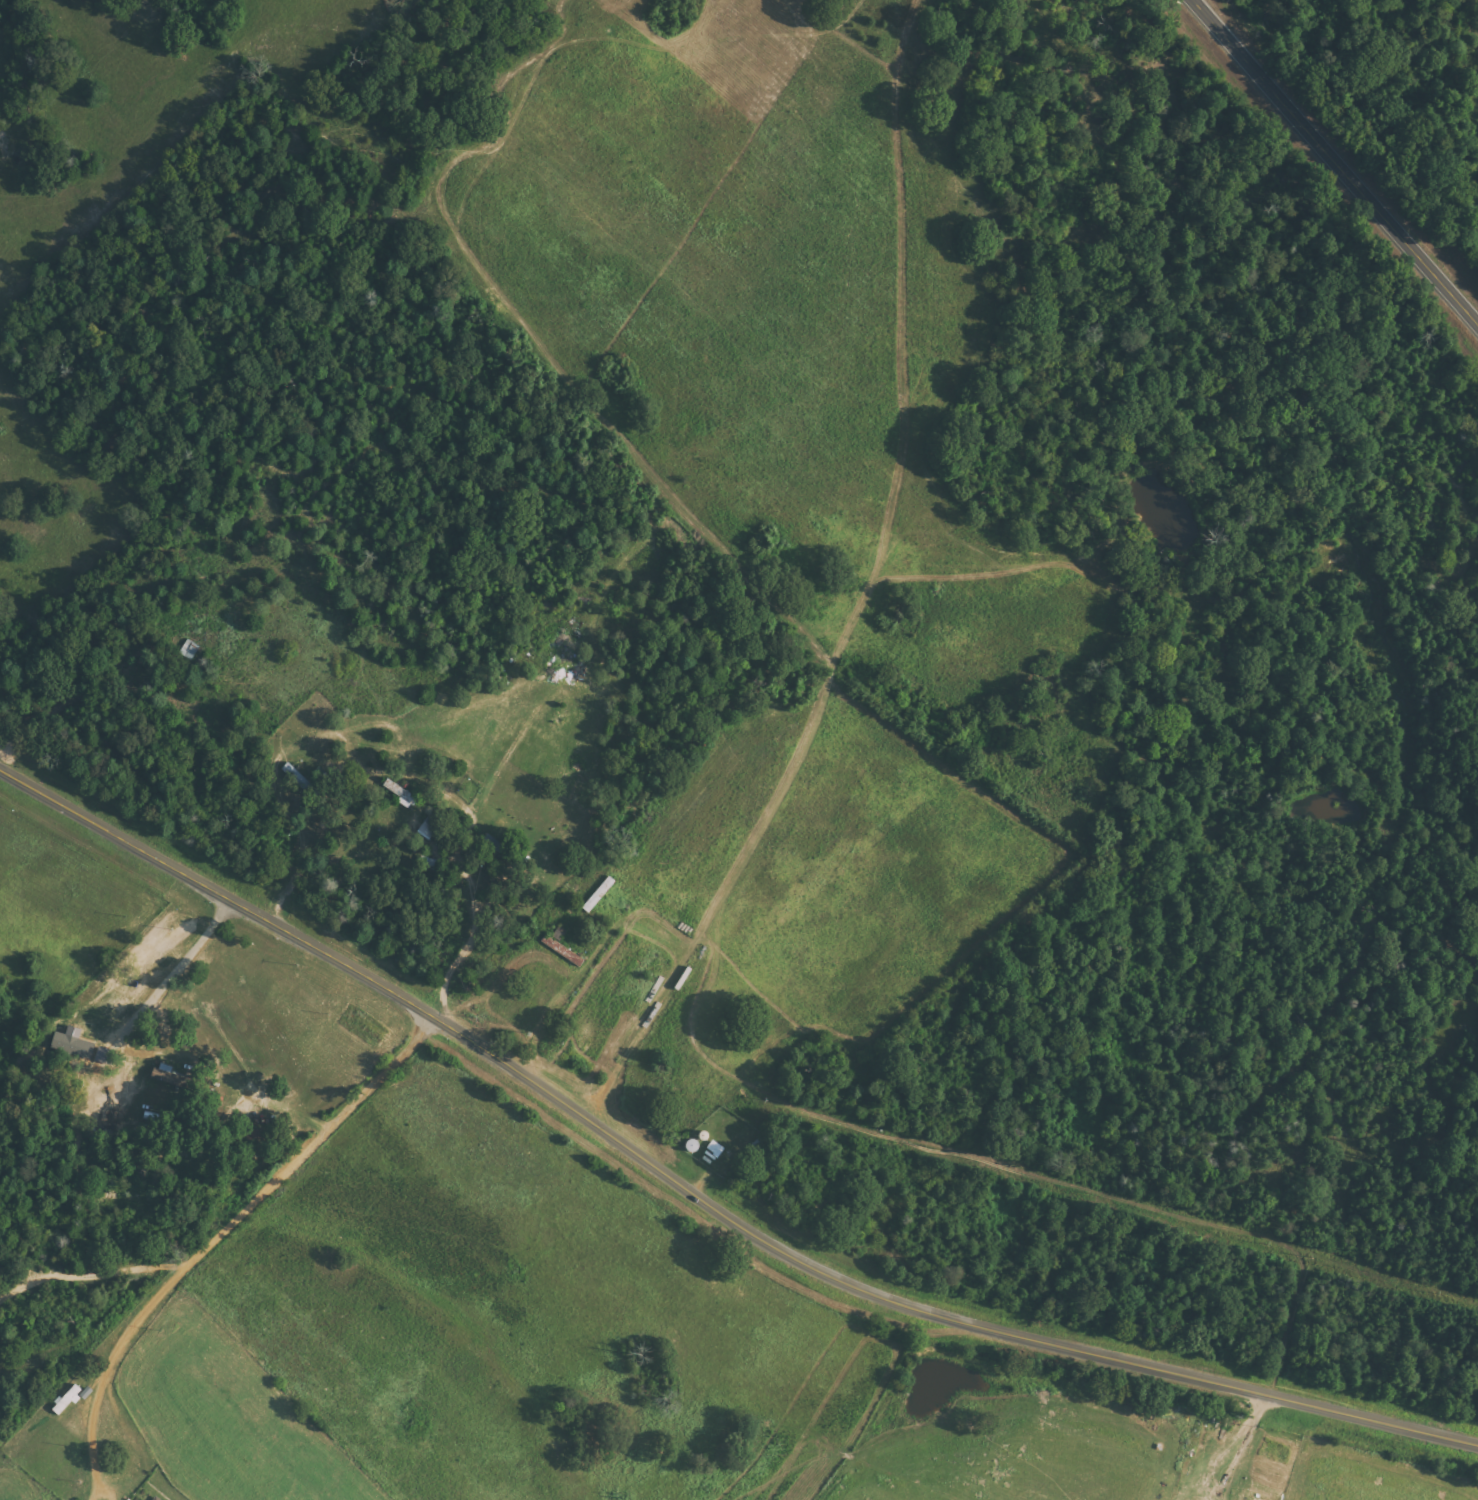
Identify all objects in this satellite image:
road: (1335, 161)
building: (293, 776)
building: (397, 793)
building: (493, 843)
road: (29, 849)
building: (559, 946)
building: (713, 1149)
road: (699, 1199)
road: (150, 1223)
road: (229, 1235)
road: (634, 1282)
road: (992, 1422)
building: (153, 1498)

